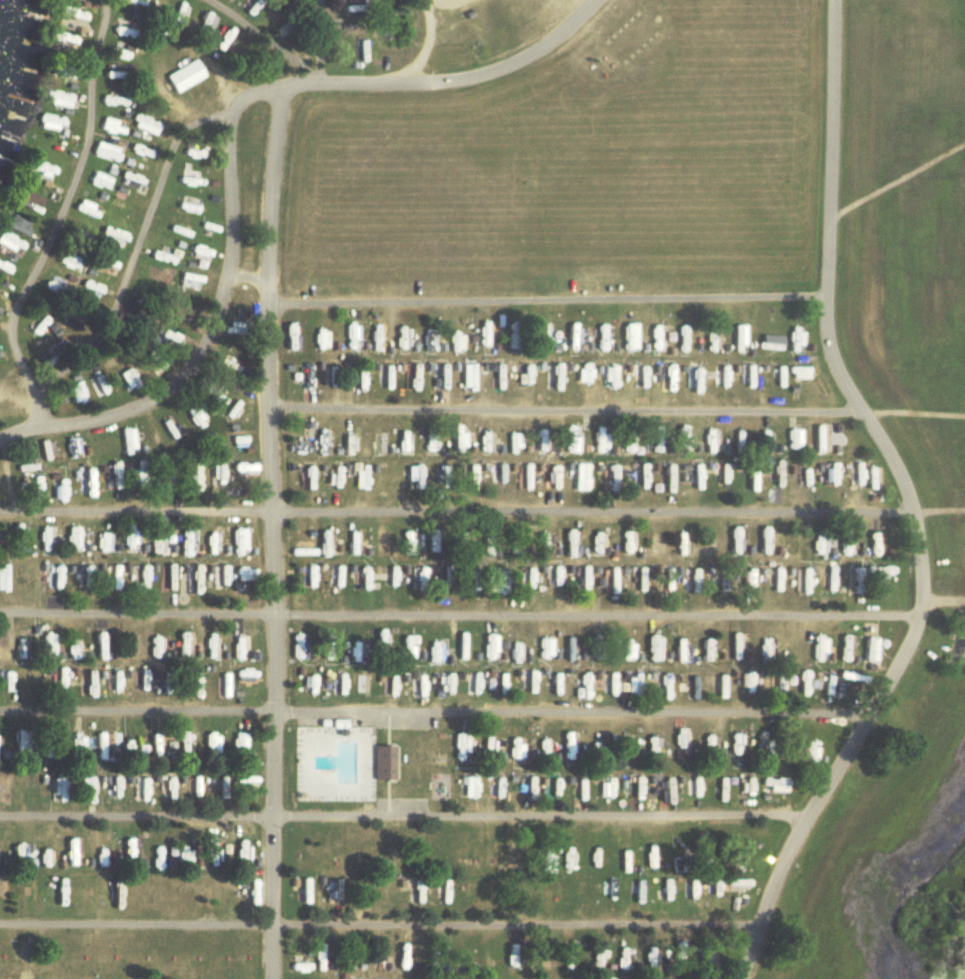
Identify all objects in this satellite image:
building: (350, 9)
building: (71, 16)
building: (182, 18)
building: (209, 22)
building: (351, 29)
building: (121, 32)
road: (264, 36)
building: (60, 37)
road: (318, 41)
road: (424, 48)
building: (361, 51)
building: (604, 62)
building: (110, 72)
building: (183, 76)
road: (449, 81)
building: (56, 99)
building: (111, 100)
building: (47, 123)
building: (145, 125)
building: (103, 152)
building: (41, 171)
building: (186, 181)
building: (28, 202)
road: (55, 217)
building: (12, 225)
building: (9, 242)
road: (134, 248)
building: (152, 280)
road: (246, 280)
building: (89, 289)
road: (546, 299)
building: (180, 305)
road: (214, 314)
building: (37, 325)
building: (231, 328)
building: (161, 333)
building: (484, 333)
building: (542, 335)
building: (353, 336)
building: (738, 337)
building: (514, 338)
building: (680, 338)
building: (291, 339)
building: (322, 339)
building: (378, 339)
building: (708, 339)
building: (769, 342)
building: (797, 371)
building: (581, 372)
building: (667, 376)
building: (607, 377)
building: (415, 379)
building: (636, 379)
building: (127, 380)
building: (693, 380)
building: (74, 392)
road: (562, 408)
road: (914, 412)
building: (791, 439)
building: (462, 440)
building: (126, 442)
building: (543, 442)
building: (71, 446)
building: (82, 476)
building: (413, 476)
building: (498, 477)
building: (581, 477)
building: (216, 478)
building: (335, 478)
building: (443, 478)
building: (555, 478)
building: (694, 478)
building: (802, 478)
building: (192, 479)
building: (610, 479)
building: (638, 479)
building: (750, 479)
building: (111, 480)
building: (136, 480)
building: (361, 480)
building: (473, 480)
building: (528, 480)
building: (775, 480)
building: (307, 481)
building: (664, 481)
building: (870, 484)
road: (908, 503)
road: (456, 510)
road: (938, 511)
road: (271, 530)
building: (0, 538)
building: (48, 538)
building: (72, 538)
building: (683, 538)
building: (24, 539)
building: (103, 539)
building: (131, 540)
building: (377, 541)
building: (185, 542)
building: (351, 542)
building: (430, 542)
building: (516, 542)
building: (571, 542)
building: (773, 542)
building: (209, 543)
building: (735, 543)
building: (846, 543)
building: (873, 544)
building: (545, 545)
building: (815, 545)
building: (494, 546)
building: (237, 547)
building: (53, 571)
building: (243, 574)
building: (220, 575)
building: (6, 576)
building: (306, 577)
building: (169, 578)
building: (388, 578)
building: (529, 578)
building: (828, 578)
building: (114, 579)
building: (552, 579)
building: (585, 579)
building: (877, 579)
building: (418, 580)
building: (499, 580)
building: (749, 580)
building: (776, 580)
building: (803, 581)
building: (719, 582)
road: (944, 599)
road: (461, 615)
building: (23, 645)
building: (51, 646)
building: (235, 646)
building: (294, 646)
building: (401, 647)
building: (598, 647)
building: (2, 648)
building: (208, 648)
building: (325, 648)
building: (542, 648)
building: (567, 648)
building: (820, 648)
building: (75, 649)
building: (105, 649)
building: (487, 649)
building: (628, 649)
building: (653, 649)
building: (844, 649)
building: (870, 649)
building: (185, 650)
building: (737, 650)
building: (767, 650)
building: (459, 651)
building: (130, 652)
building: (159, 652)
building: (351, 652)
building: (431, 652)
building: (514, 653)
building: (683, 654)
building: (240, 677)
building: (197, 679)
building: (850, 679)
building: (63, 680)
building: (5, 681)
building: (219, 681)
building: (825, 681)
building: (748, 682)
building: (803, 682)
building: (436, 683)
building: (337, 684)
building: (471, 684)
building: (308, 686)
building: (385, 686)
building: (555, 686)
building: (583, 686)
building: (498, 687)
building: (526, 687)
building: (609, 689)
road: (435, 711)
building: (335, 727)
building: (761, 741)
building: (18, 742)
building: (678, 742)
building: (75, 744)
building: (155, 744)
building: (735, 744)
building: (486, 745)
building: (103, 746)
building: (186, 746)
building: (211, 747)
building: (457, 747)
building: (45, 748)
building: (512, 748)
building: (541, 749)
building: (569, 750)
building: (380, 763)
building: (243, 781)
building: (773, 785)
building: (114, 786)
building: (85, 787)
building: (168, 787)
building: (494, 788)
building: (582, 788)
building: (693, 788)
building: (739, 788)
building: (143, 789)
building: (667, 789)
building: (55, 790)
road: (402, 814)
building: (125, 854)
building: (208, 855)
building: (183, 856)
building: (736, 860)
building: (245, 882)
building: (736, 882)
building: (218, 891)
building: (302, 892)
road: (380, 924)
building: (565, 959)
building: (486, 960)
building: (237, 961)
building: (487, 978)

